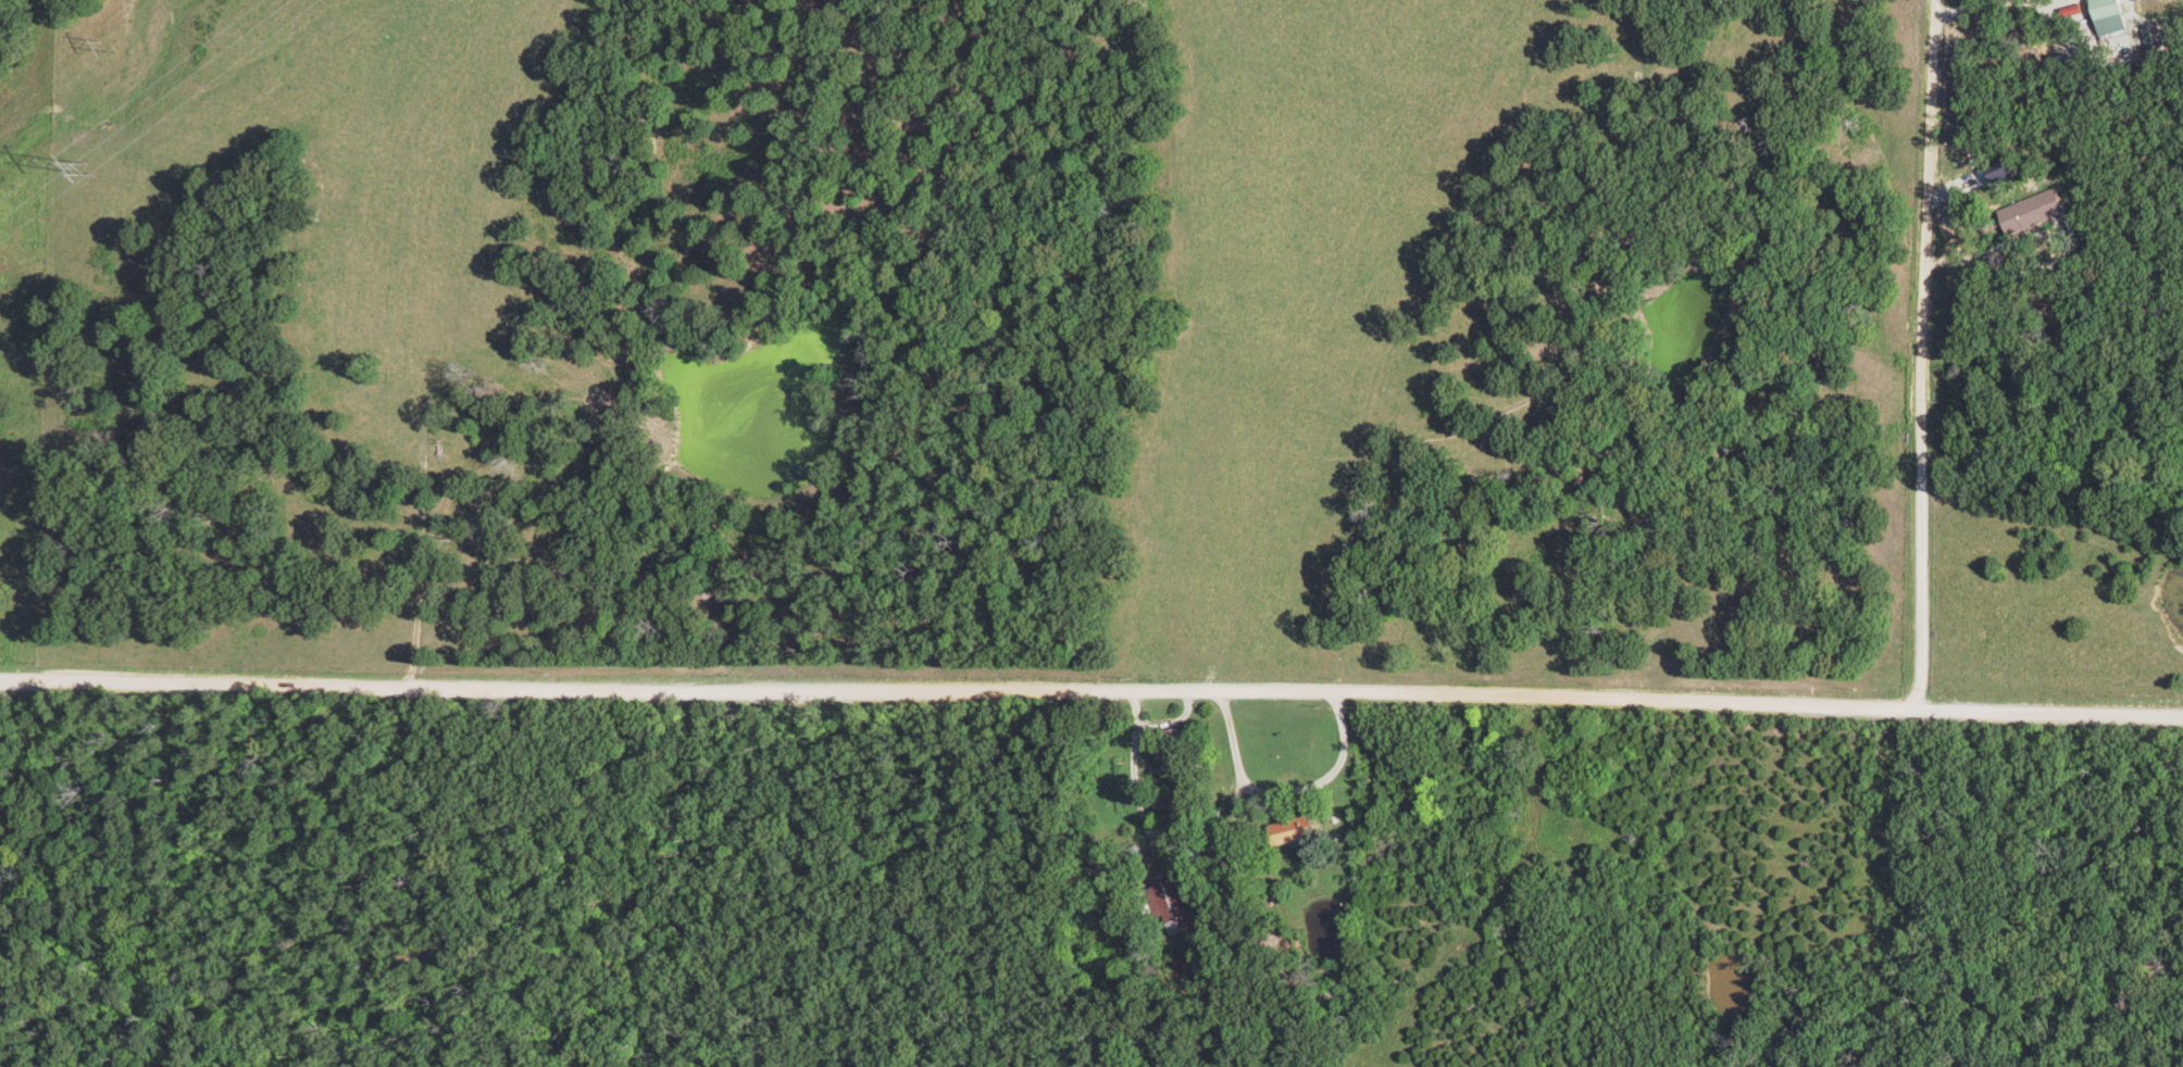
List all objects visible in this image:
building: (2107, 16)
power tower: (98, 167)
building: (2031, 211)
road: (1921, 354)
road: (1091, 691)
road: (1136, 781)
road: (1283, 787)
building: (1288, 831)

